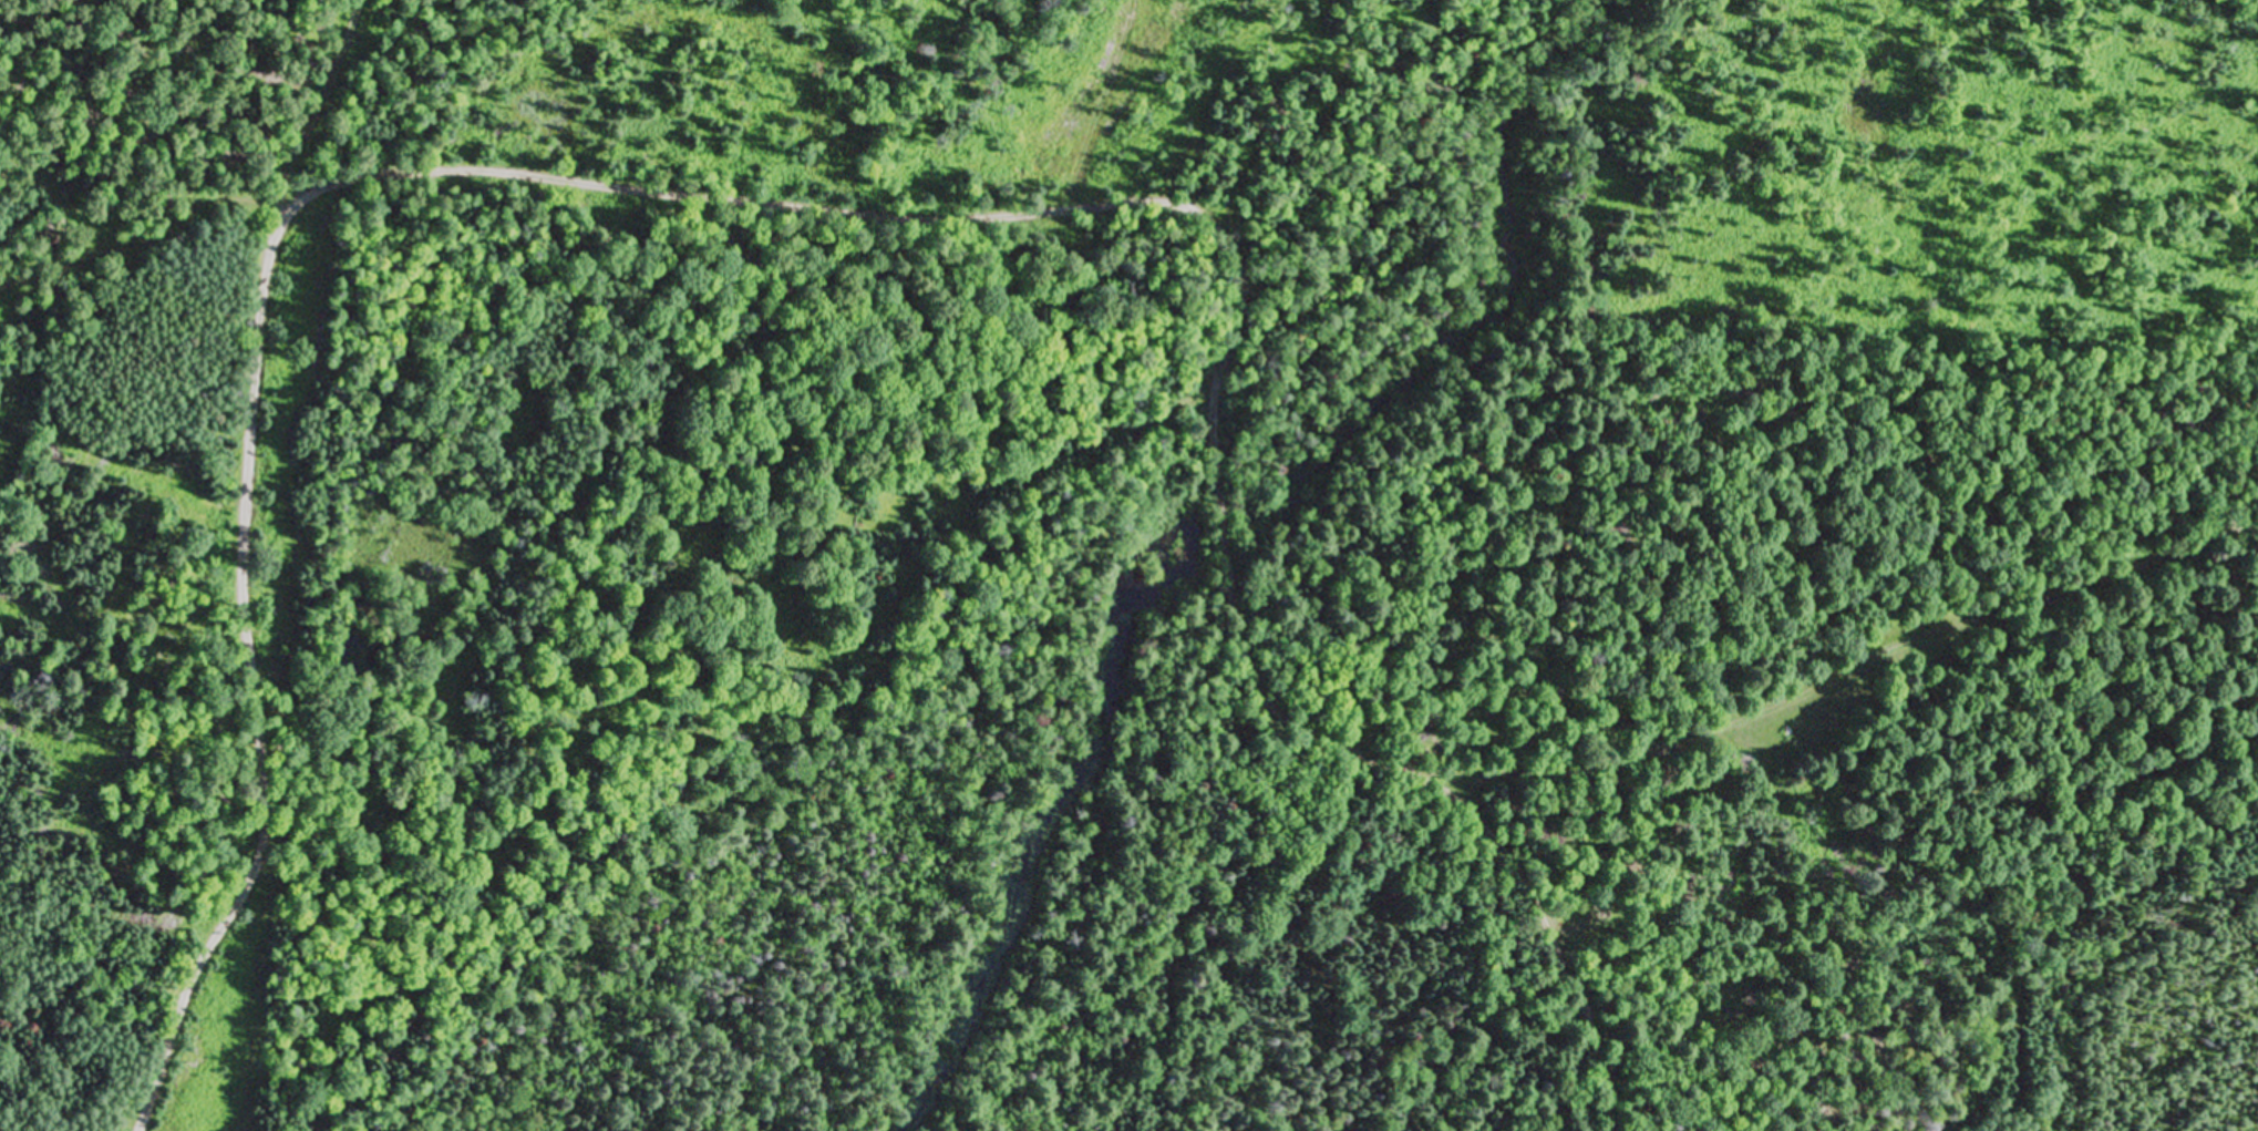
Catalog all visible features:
road: (343, 92)
road: (424, 172)

